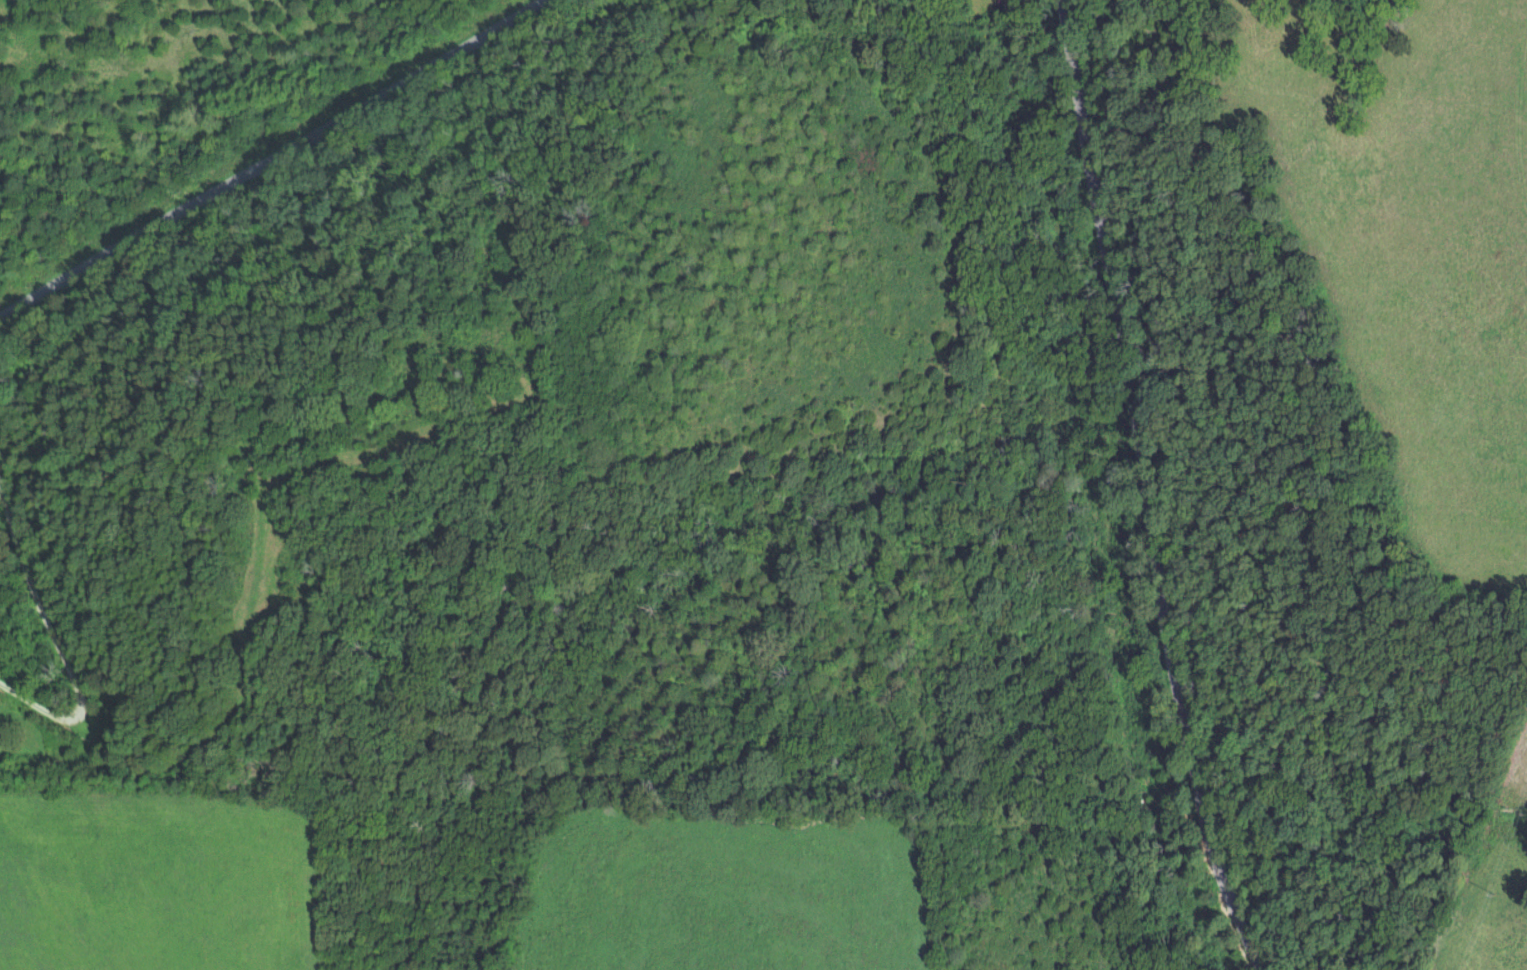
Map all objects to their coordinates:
road: (263, 152)
road: (1154, 489)
road: (54, 617)

